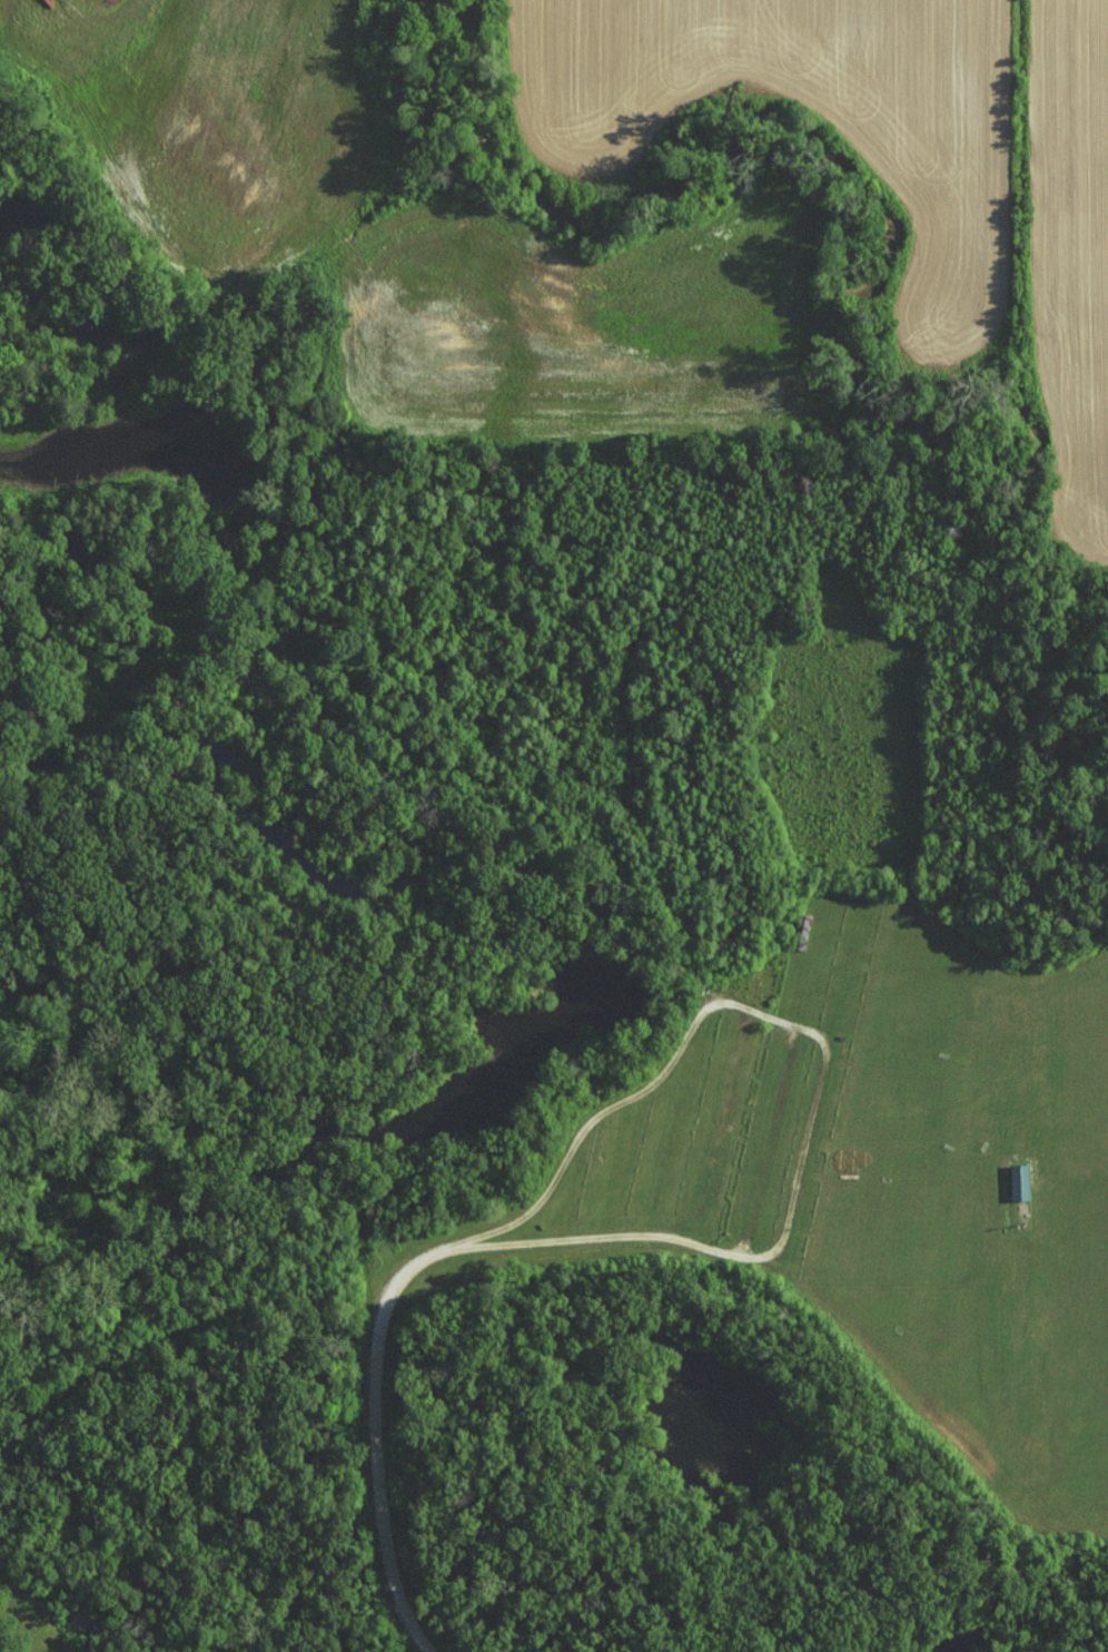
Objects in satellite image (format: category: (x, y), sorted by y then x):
building: (1017, 1182)
road: (3, 1648)

